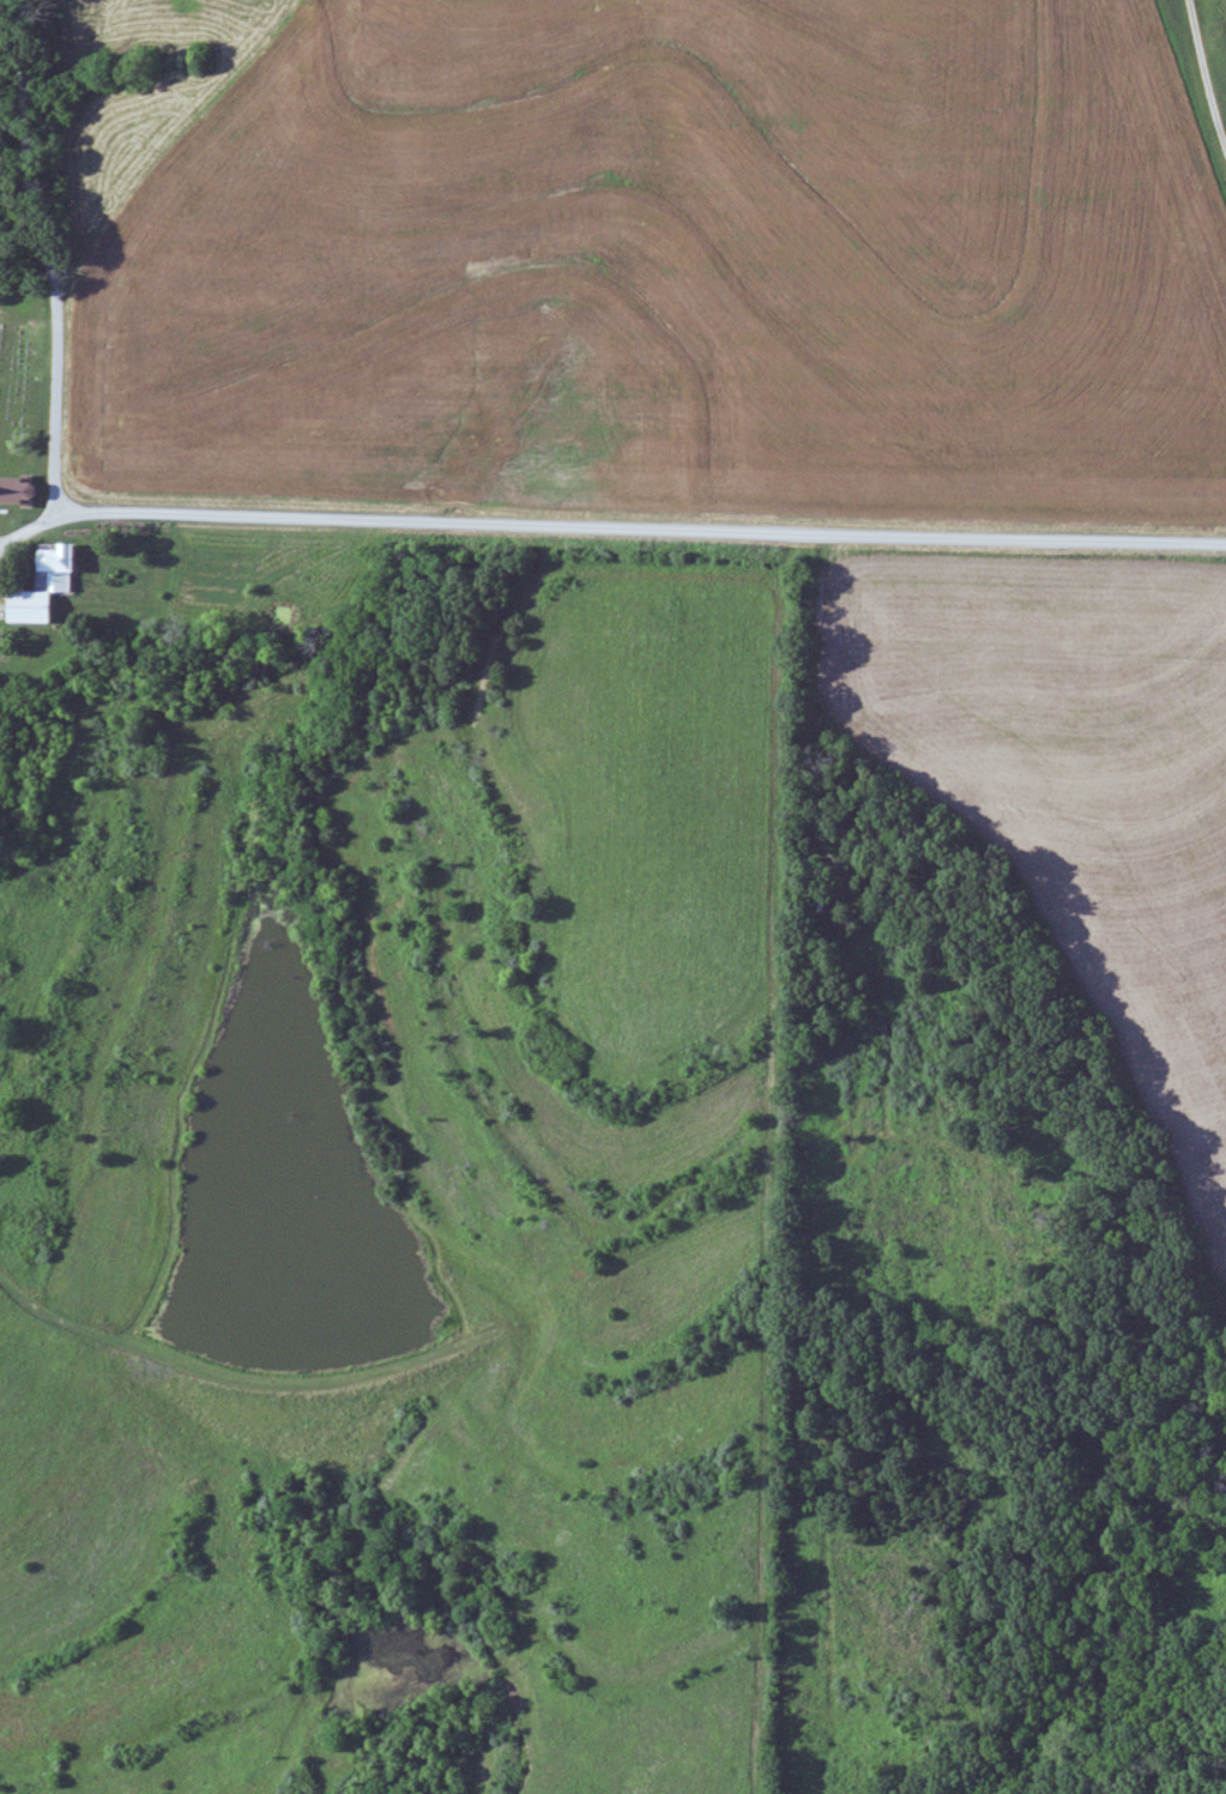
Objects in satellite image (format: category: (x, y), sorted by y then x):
road: (1203, 74)
road: (49, 258)
park: (23, 350)
building: (16, 490)
road: (609, 526)
building: (42, 585)

